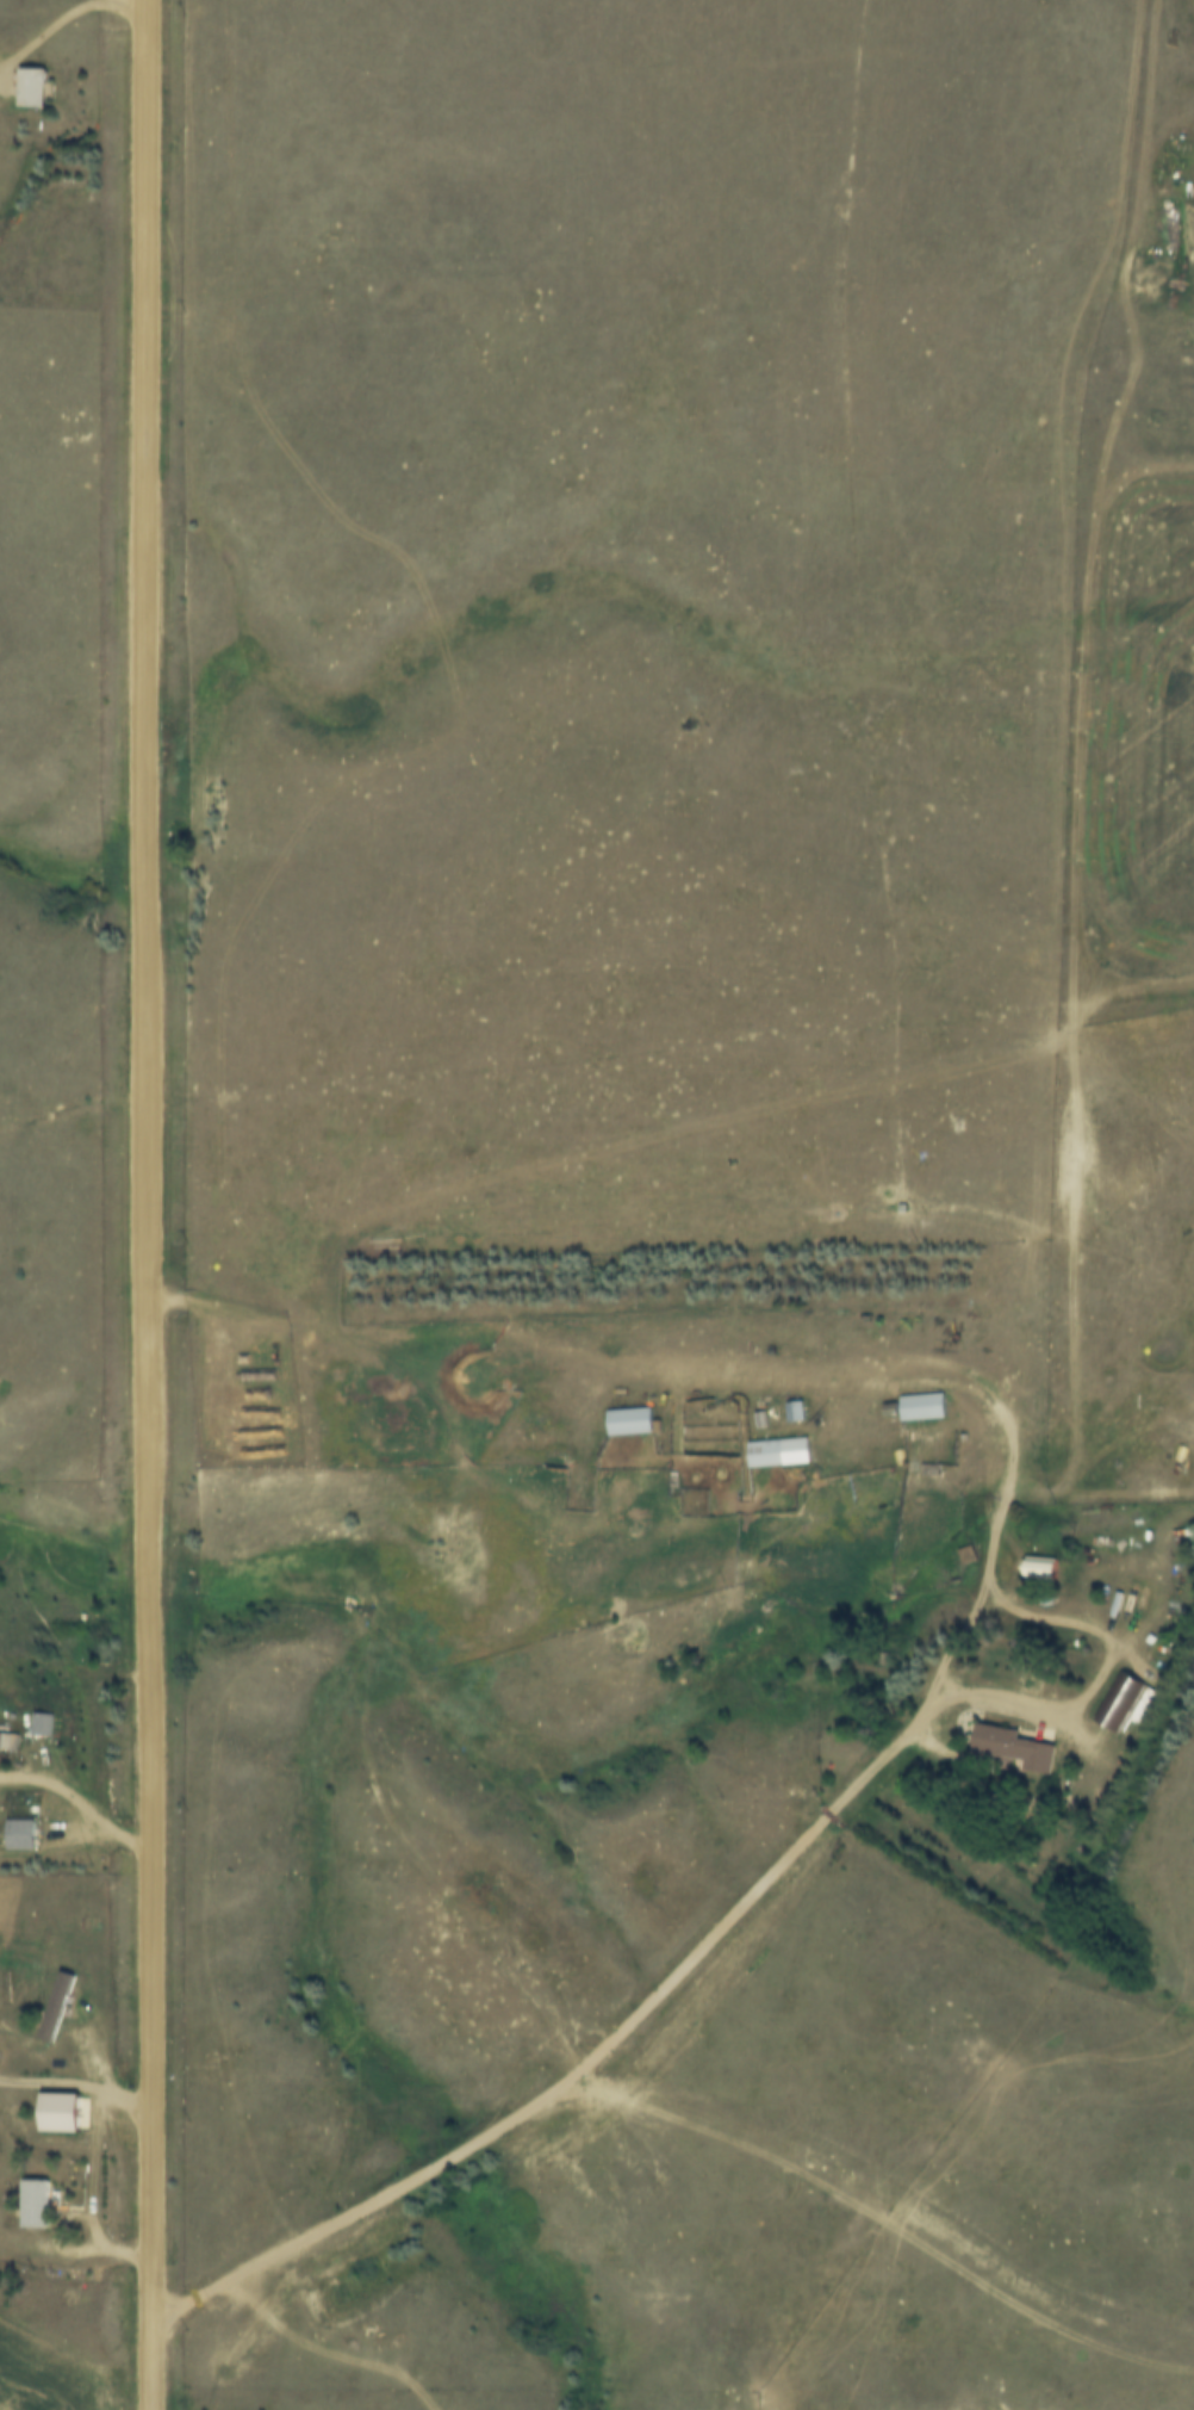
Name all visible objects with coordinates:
road: (63, 18)
building: (37, 85)
road: (1133, 912)
road: (144, 1204)
building: (927, 1407)
building: (798, 1411)
building: (633, 1420)
building: (782, 1451)
building: (1049, 1572)
building: (46, 1723)
building: (7, 1740)
building: (1016, 1747)
road: (83, 1808)
building: (25, 1834)
road: (808, 1838)
building: (58, 2011)
building: (67, 2107)
road: (93, 2176)
building: (38, 2200)

